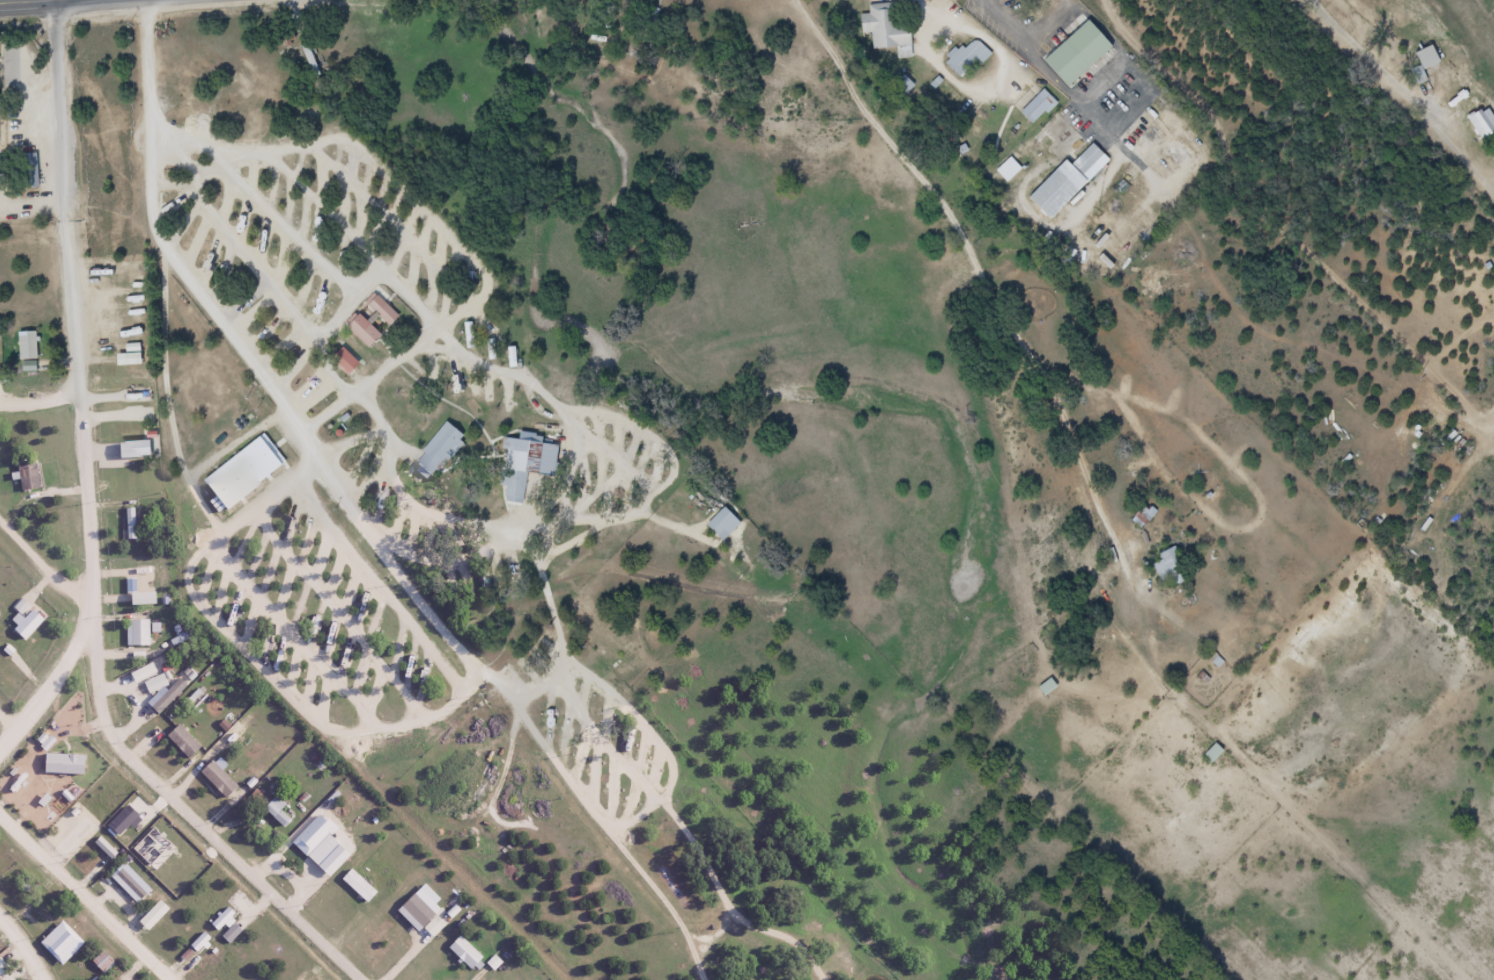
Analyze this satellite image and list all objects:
road: (44, 3)
building: (889, 29)
building: (968, 59)
building: (1089, 60)
building: (1424, 63)
road: (1397, 97)
building: (1039, 108)
building: (2, 126)
building: (1173, 151)
building: (1008, 171)
building: (1067, 183)
road: (410, 187)
road: (1275, 224)
building: (383, 312)
building: (363, 332)
building: (27, 347)
road: (332, 348)
building: (345, 362)
road: (1054, 383)
road: (381, 384)
road: (91, 395)
road: (45, 396)
road: (176, 399)
road: (584, 436)
building: (442, 447)
building: (528, 468)
building: (242, 473)
building: (26, 474)
road: (366, 516)
building: (1144, 517)
building: (129, 523)
building: (722, 525)
building: (1170, 568)
building: (138, 631)
road: (257, 656)
building: (1047, 688)
road: (11, 730)
building: (181, 741)
building: (1213, 753)
road: (147, 767)
building: (217, 779)
building: (275, 810)
building: (357, 885)
road: (85, 894)
road: (762, 927)
building: (77, 934)
road: (27, 943)

